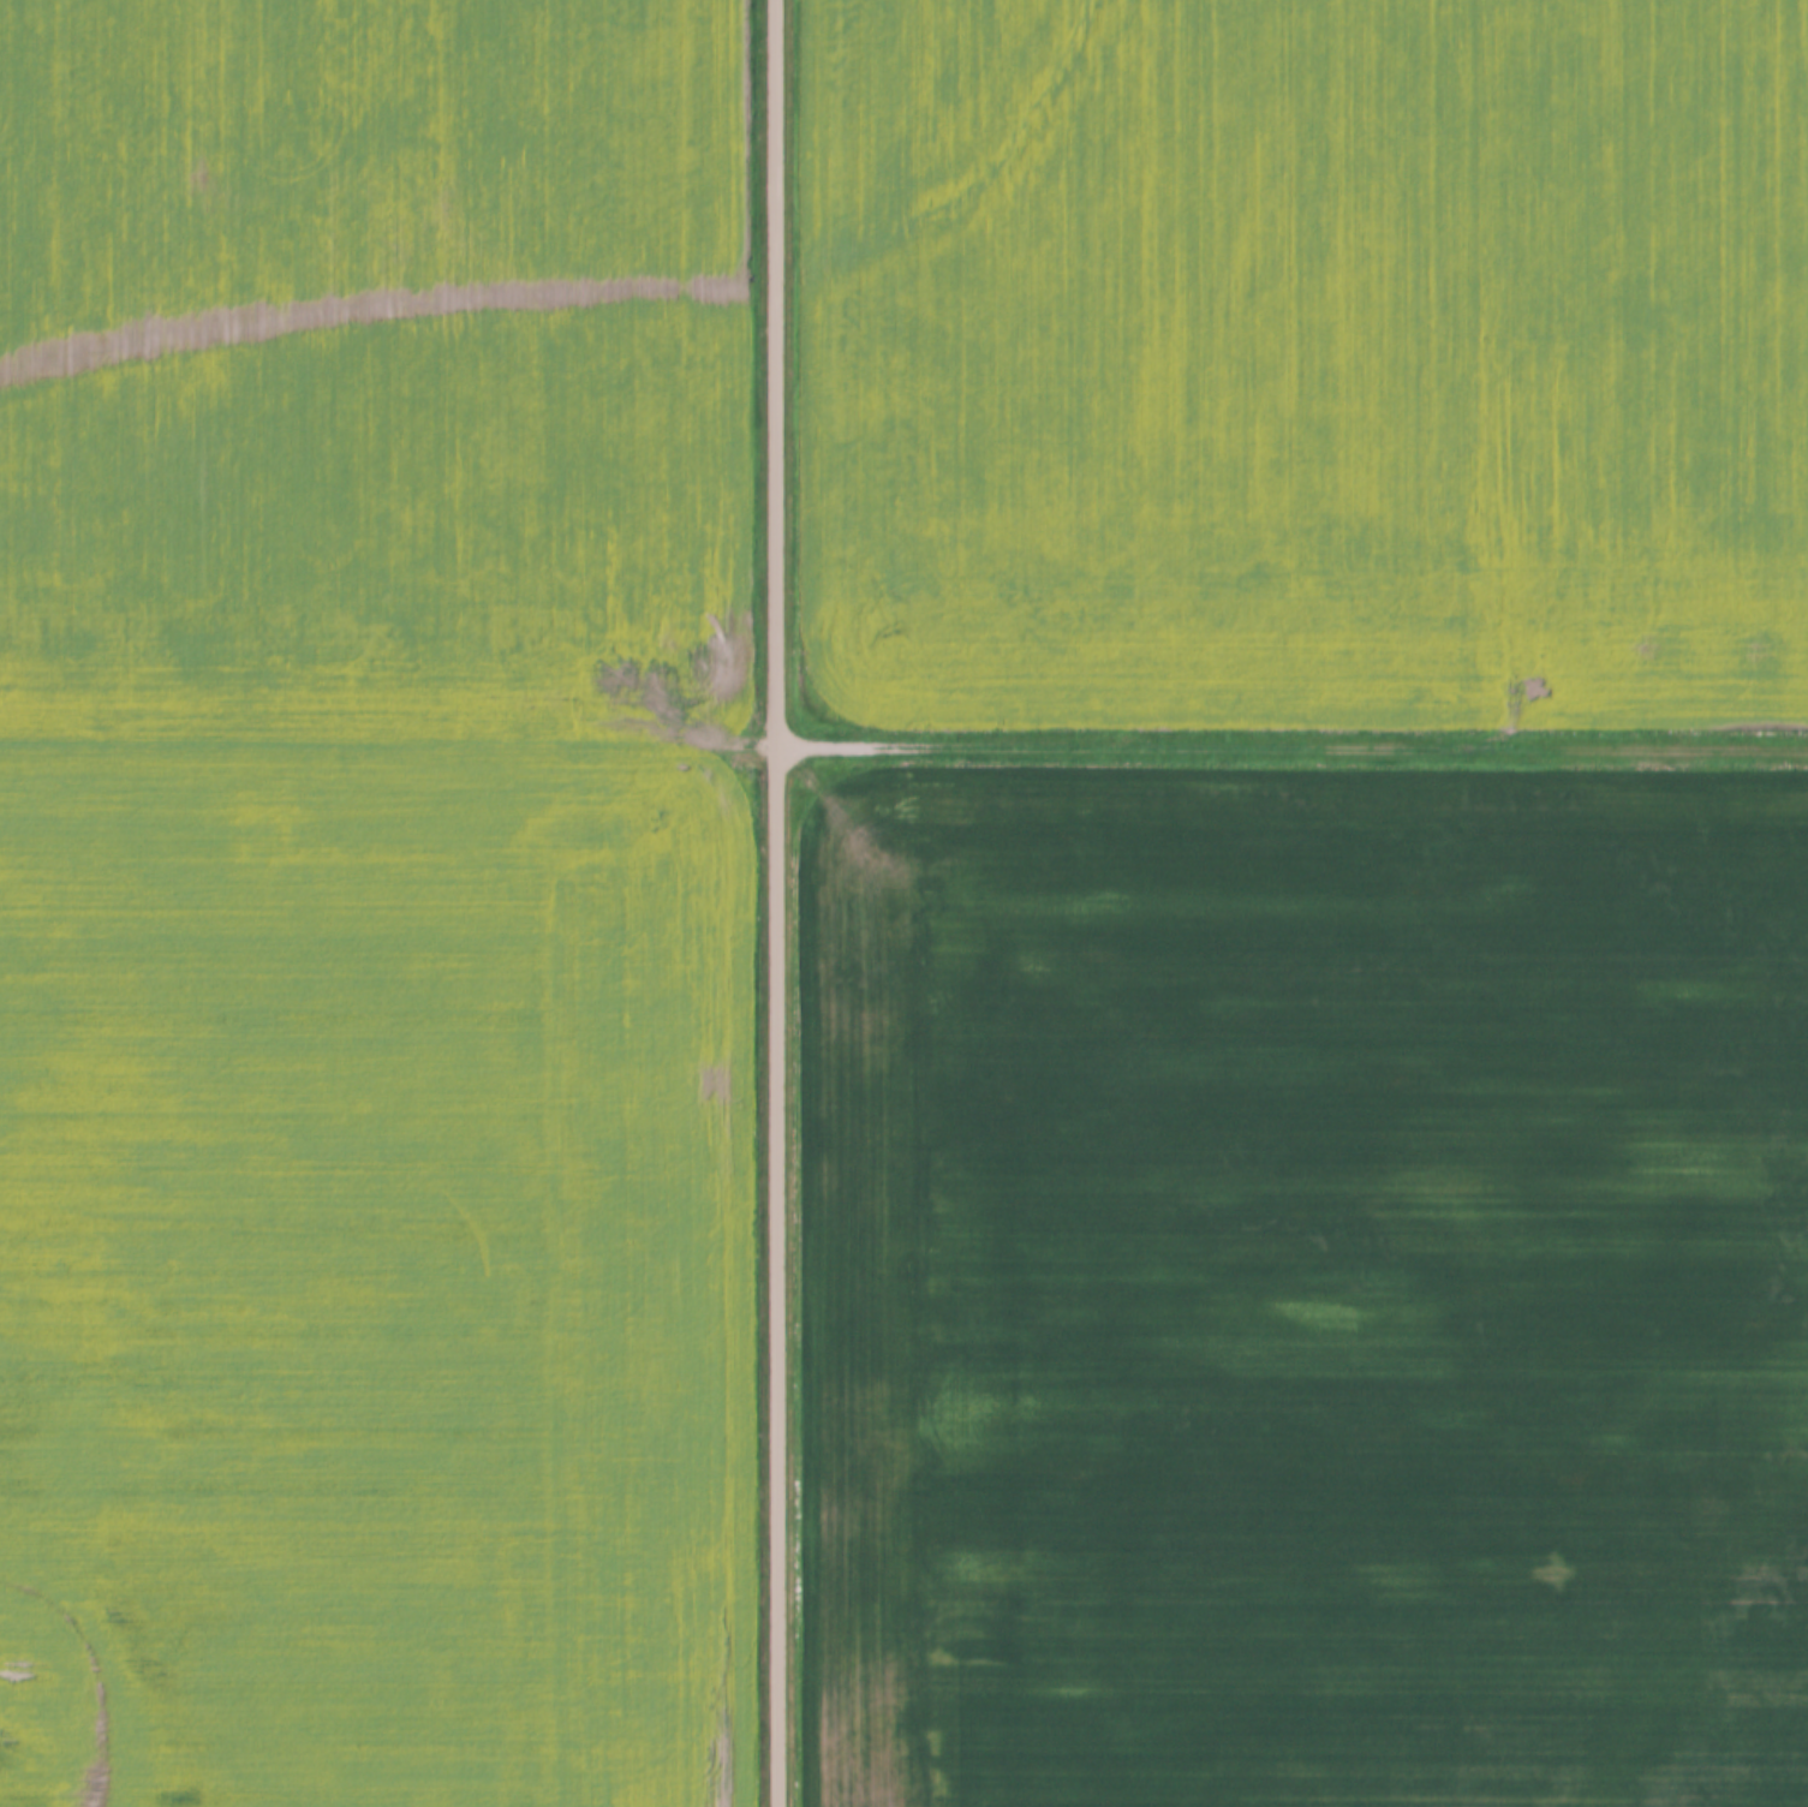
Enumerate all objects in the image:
road: (903, 744)
road: (781, 903)

